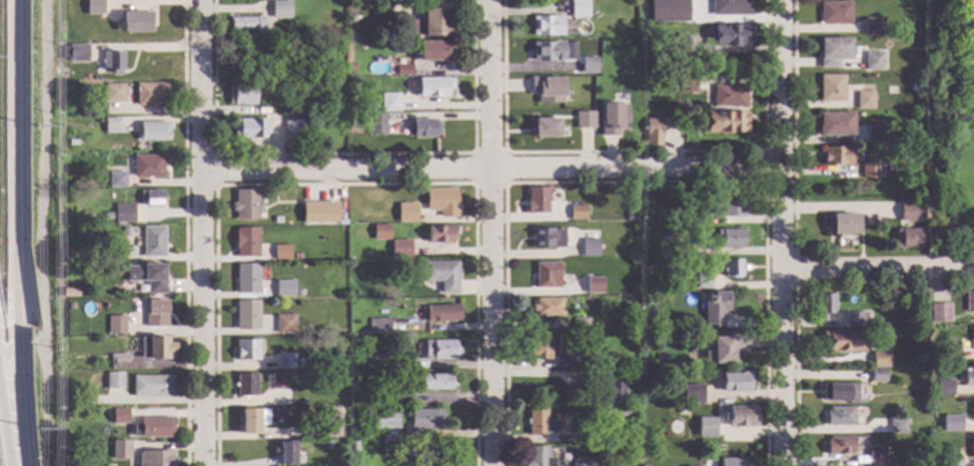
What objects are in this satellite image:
building: (254, 1)
building: (358, 1)
building: (611, 5)
building: (93, 7)
building: (728, 8)
building: (280, 9)
building: (578, 9)
building: (682, 12)
building: (834, 13)
building: (136, 22)
building: (434, 22)
building: (246, 25)
building: (546, 26)
building: (872, 27)
building: (409, 28)
building: (347, 34)
building: (729, 35)
building: (287, 36)
building: (679, 44)
building: (656, 47)
building: (433, 51)
building: (546, 51)
building: (832, 52)
building: (77, 53)
building: (111, 62)
building: (872, 62)
building: (349, 67)
building: (587, 67)
building: (914, 67)
building: (403, 71)
building: (274, 82)
building: (685, 84)
building: (433, 87)
building: (913, 87)
building: (830, 88)
building: (546, 90)
building: (113, 93)
building: (150, 94)
building: (241, 95)
building: (728, 96)
building: (863, 100)
building: (389, 103)
building: (288, 108)
building: (585, 119)
building: (612, 119)
building: (723, 122)
building: (835, 124)
building: (376, 125)
road: (792, 125)
building: (111, 126)
power tower: (36, 127)
building: (291, 127)
building: (546, 127)
park: (950, 128)
building: (249, 129)
building: (423, 129)
building: (153, 131)
building: (652, 134)
building: (876, 136)
building: (71, 143)
building: (836, 156)
building: (724, 167)
building: (61, 169)
building: (137, 169)
building: (869, 171)
road: (491, 173)
building: (151, 199)
building: (536, 201)
building: (262, 202)
building: (440, 202)
building: (732, 202)
building: (245, 204)
building: (327, 212)
building: (910, 212)
building: (122, 213)
building: (406, 213)
building: (577, 213)
building: (694, 213)
road: (40, 219)
building: (276, 220)
building: (841, 224)
building: (124, 232)
road: (202, 232)
building: (380, 232)
road: (493, 232)
building: (669, 232)
road: (781, 232)
road: (17, 233)
building: (440, 234)
building: (546, 238)
building: (729, 238)
building: (906, 239)
building: (152, 242)
building: (245, 242)
building: (664, 245)
building: (589, 248)
building: (400, 249)
building: (281, 252)
building: (296, 256)
building: (399, 266)
building: (732, 267)
road: (793, 267)
road: (877, 270)
building: (439, 275)
building: (546, 276)
building: (147, 277)
building: (246, 279)
building: (702, 281)
building: (593, 286)
building: (284, 288)
building: (297, 292)
building: (68, 293)
building: (969, 302)
building: (823, 305)
building: (547, 308)
building: (713, 308)
building: (439, 313)
building: (939, 313)
building: (154, 314)
building: (246, 315)
building: (854, 319)
building: (283, 324)
building: (579, 324)
building: (115, 325)
building: (379, 325)
building: (699, 336)
building: (877, 337)
building: (911, 340)
building: (971, 340)
building: (841, 341)
building: (570, 342)
building: (646, 343)
building: (726, 347)
building: (155, 348)
building: (537, 348)
building: (245, 350)
building: (439, 350)
building: (950, 353)
building: (937, 354)
building: (878, 360)
building: (285, 361)
building: (117, 362)
building: (298, 362)
building: (376, 362)
building: (598, 373)
building: (643, 375)
road: (794, 375)
building: (876, 375)
building: (969, 377)
building: (113, 381)
building: (276, 381)
building: (434, 382)
building: (734, 382)
building: (245, 385)
building: (150, 386)
building: (943, 388)
building: (615, 392)
building: (838, 393)
building: (691, 394)
building: (405, 398)
building: (86, 400)
building: (340, 409)
building: (972, 411)
building: (623, 412)
building: (680, 412)
building: (68, 415)
building: (119, 416)
building: (739, 417)
building: (838, 417)
building: (81, 419)
building: (423, 419)
building: (251, 420)
building: (385, 420)
building: (543, 422)
building: (950, 423)
building: (329, 425)
building: (895, 426)
building: (705, 427)
building: (152, 428)
building: (676, 429)
power tower: (36, 431)
road: (5, 435)
building: (936, 441)
building: (327, 446)
building: (352, 446)
building: (837, 446)
building: (972, 447)
building: (120, 450)
building: (284, 453)
building: (407, 454)
building: (874, 456)
building: (536, 457)
building: (154, 458)
building: (952, 461)
building: (732, 462)
building: (584, 464)

